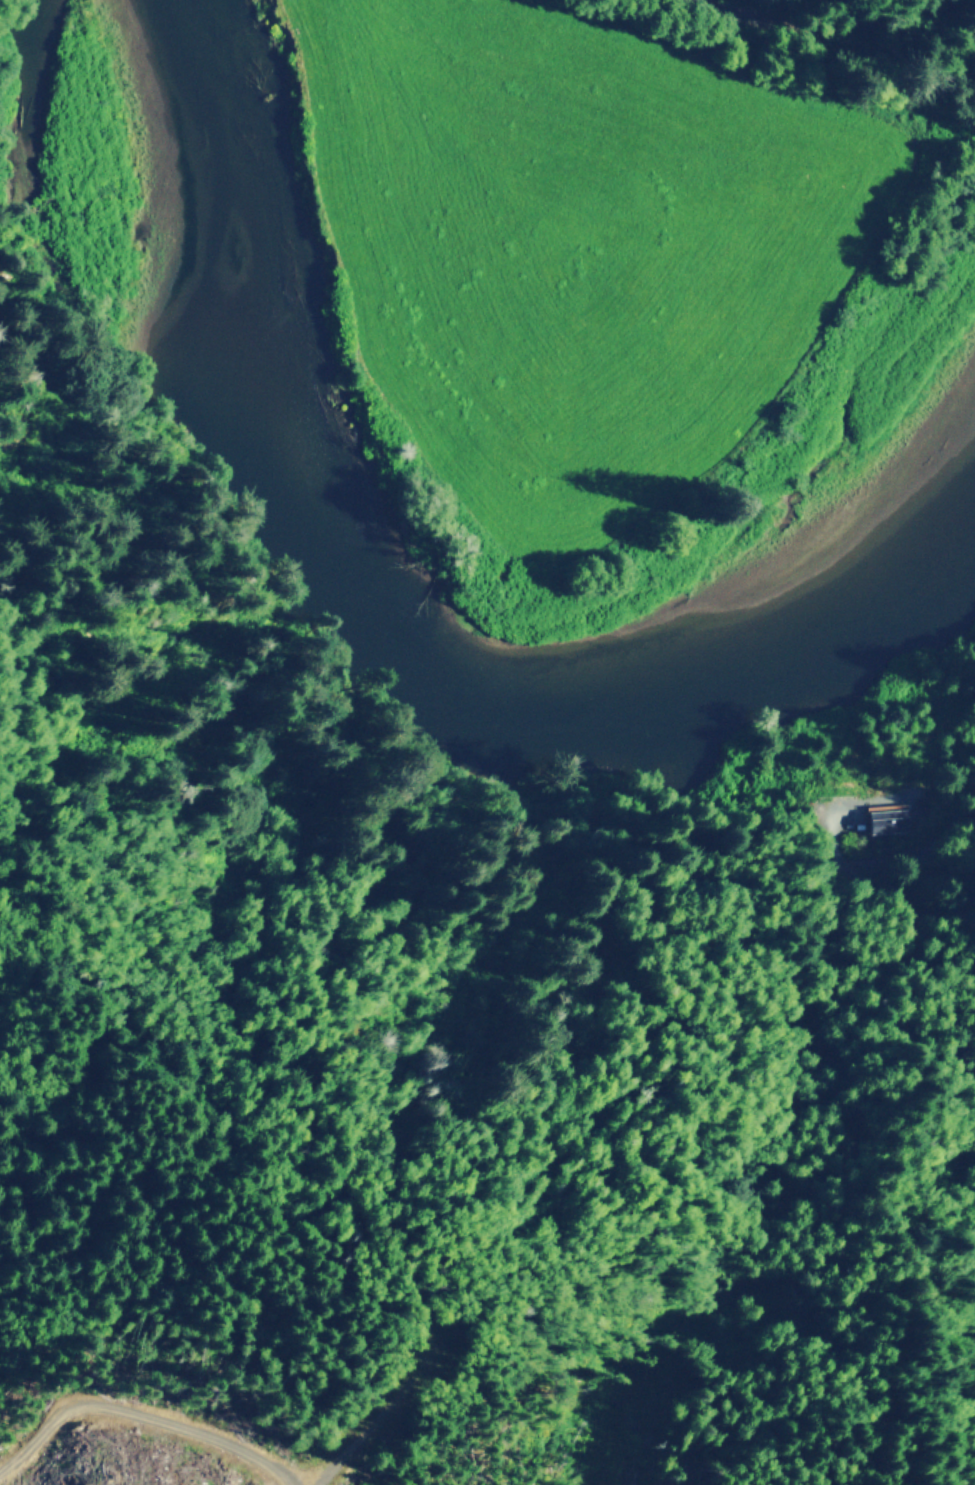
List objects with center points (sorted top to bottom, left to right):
railway: (834, 23)
crop: (576, 248)
river: (385, 620)
road: (832, 841)

